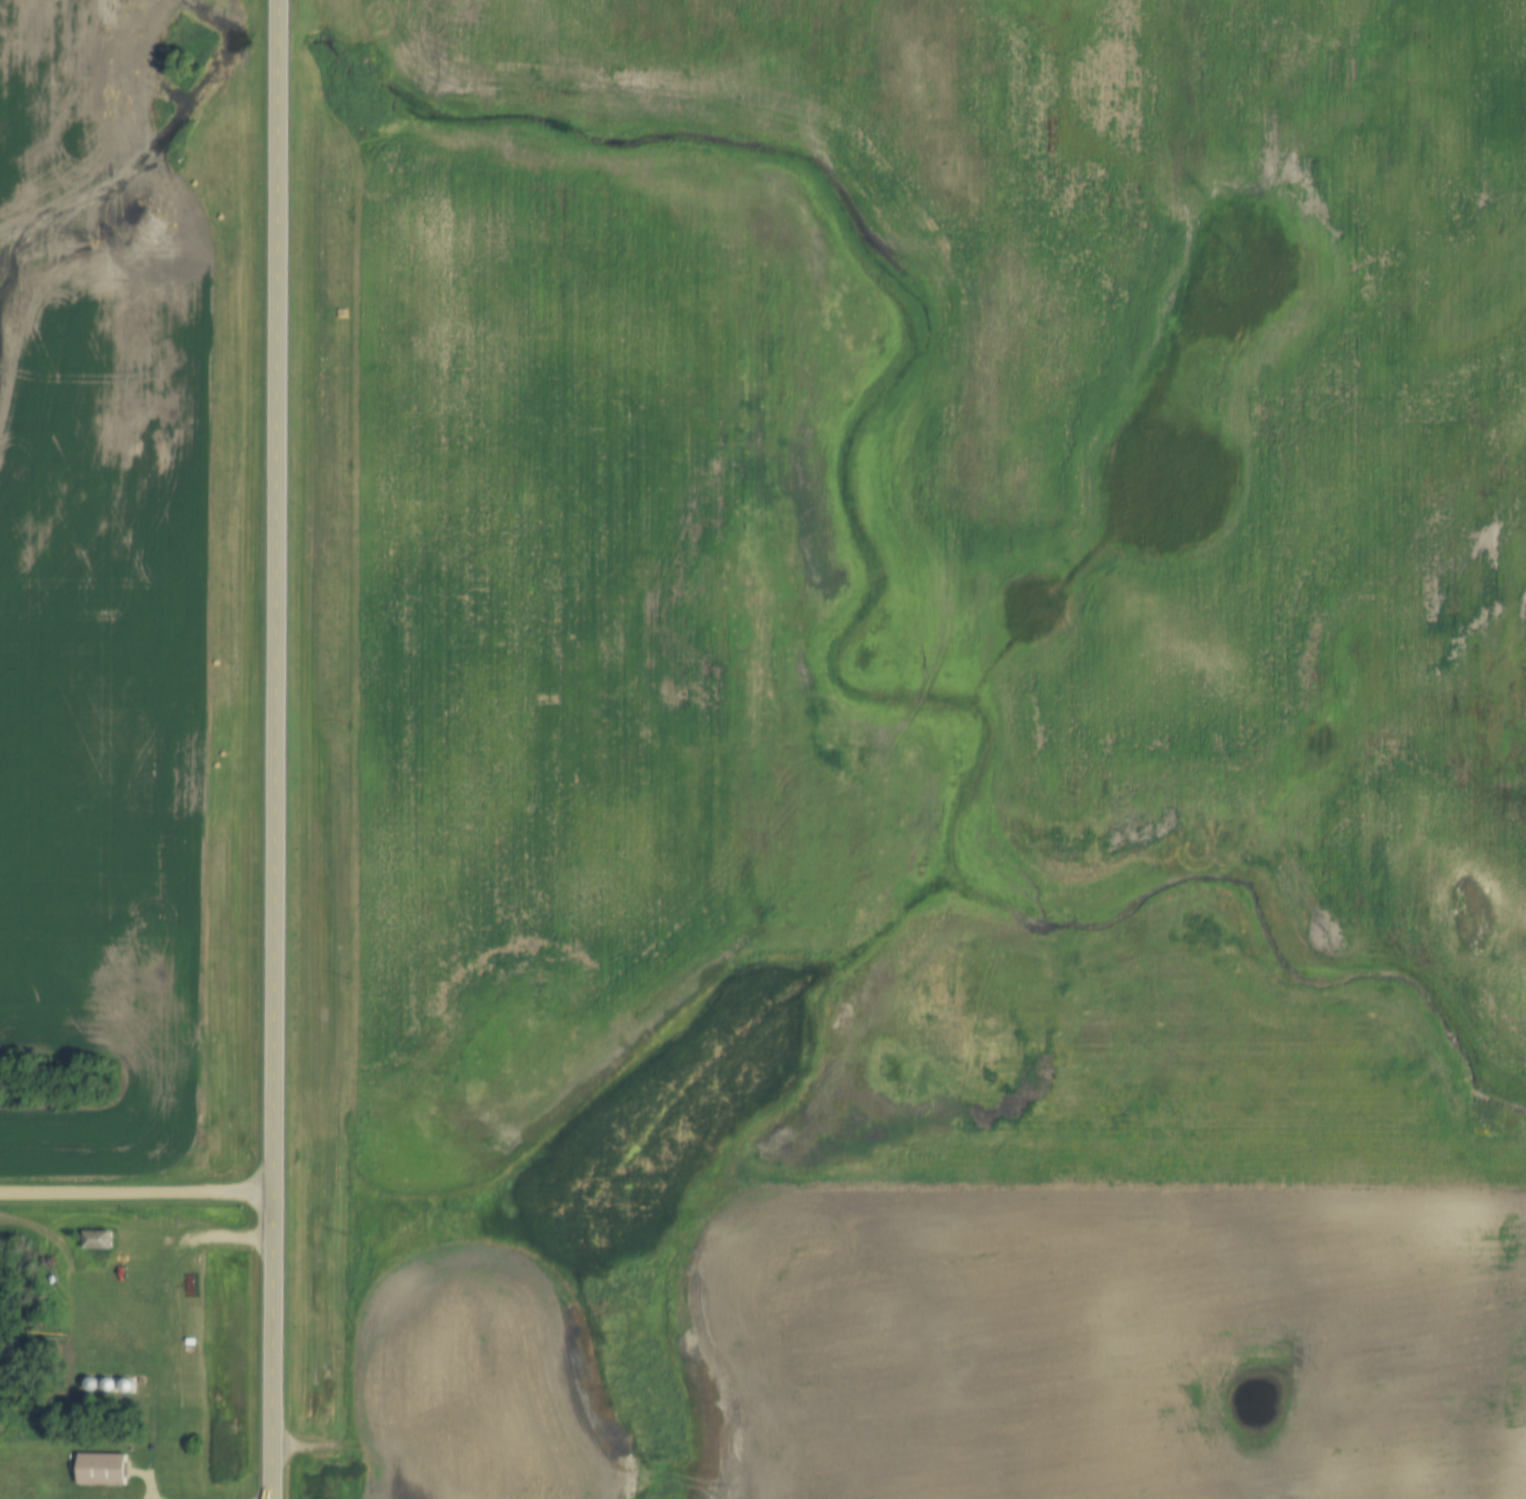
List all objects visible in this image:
road: (271, 749)
road: (132, 1195)
building: (96, 1240)
building: (100, 1468)

